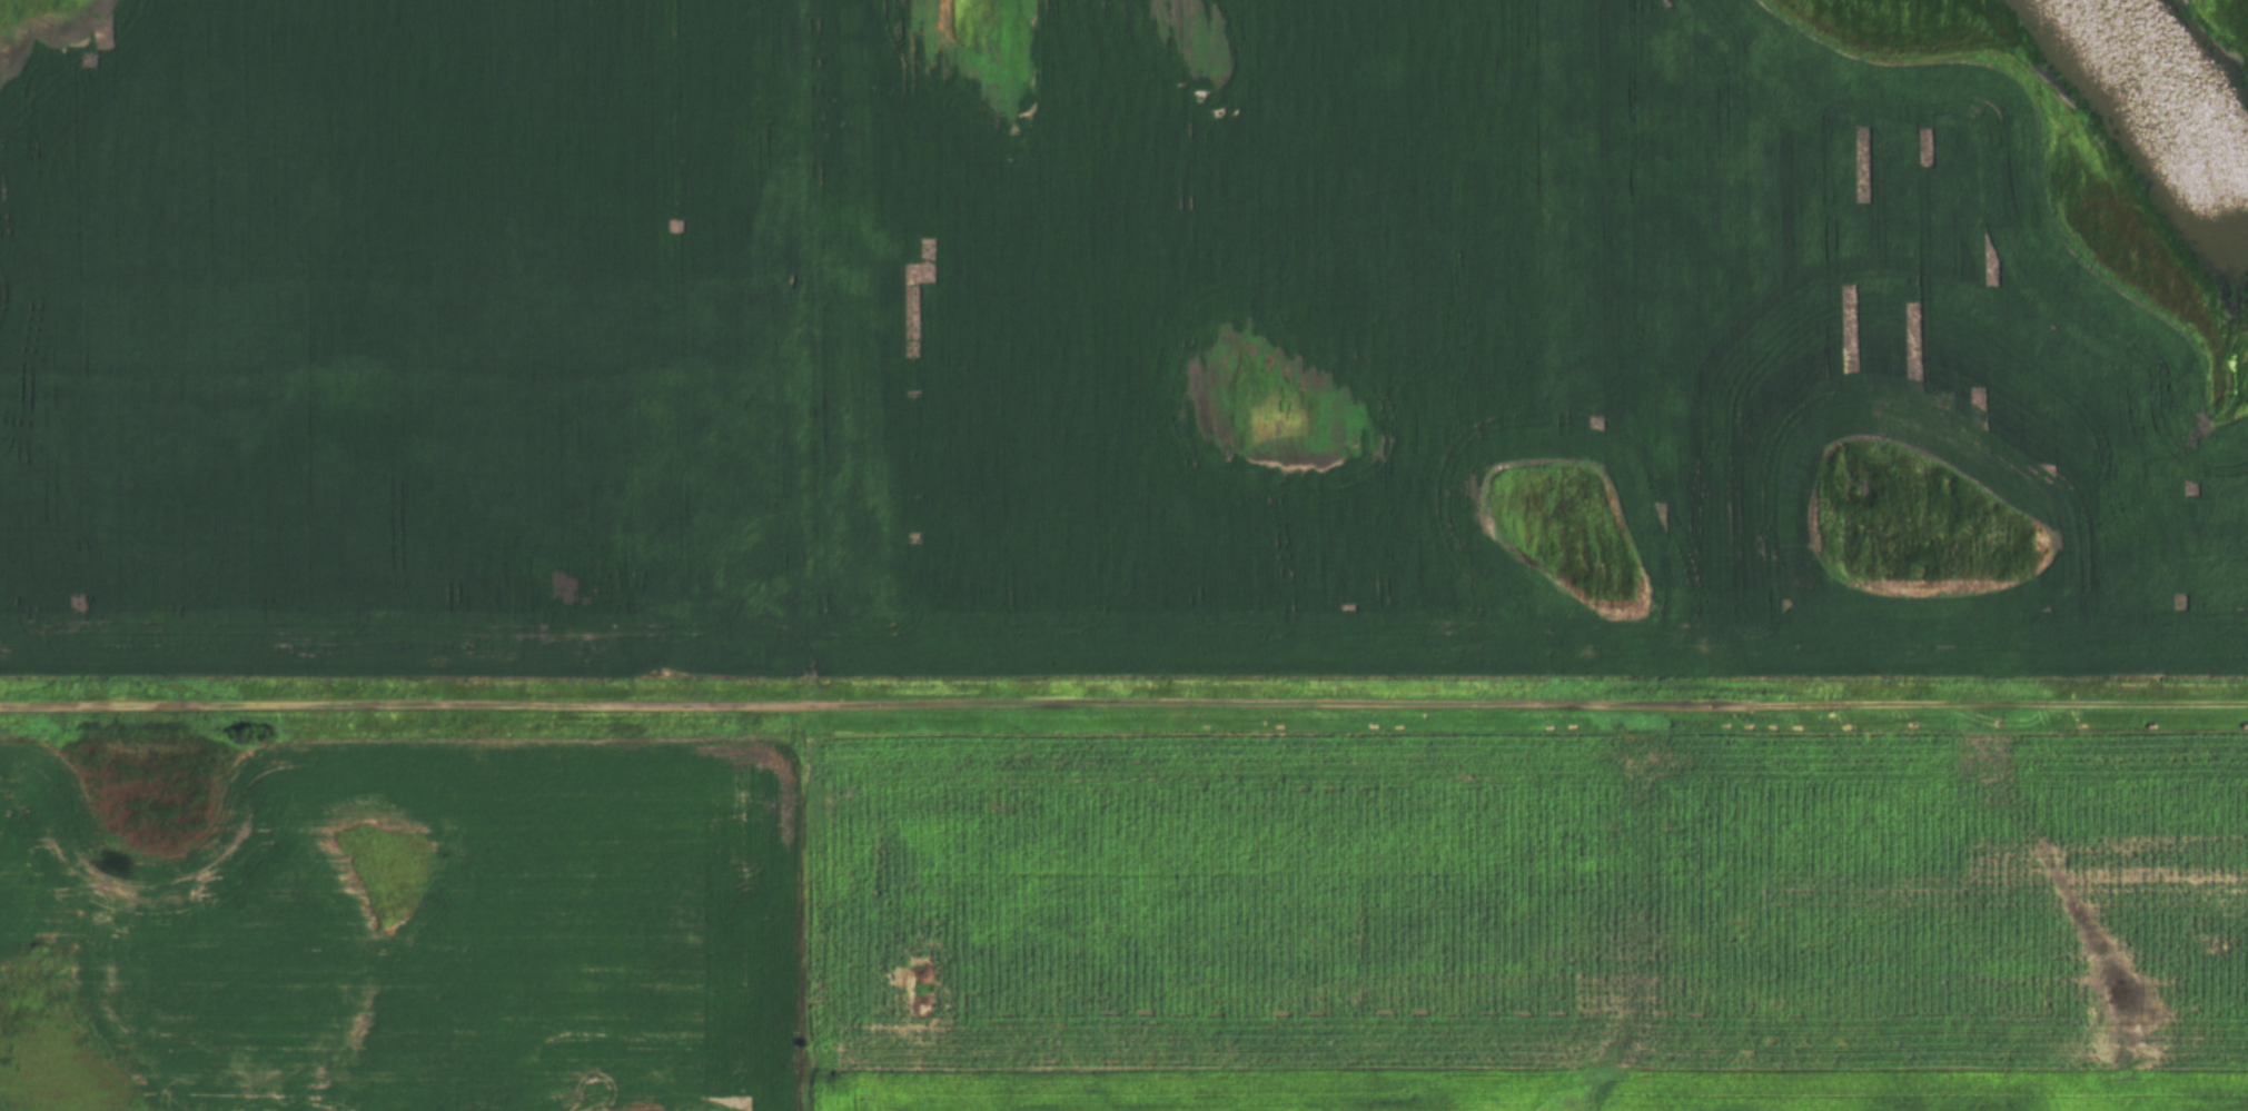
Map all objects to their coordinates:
road: (1123, 706)

